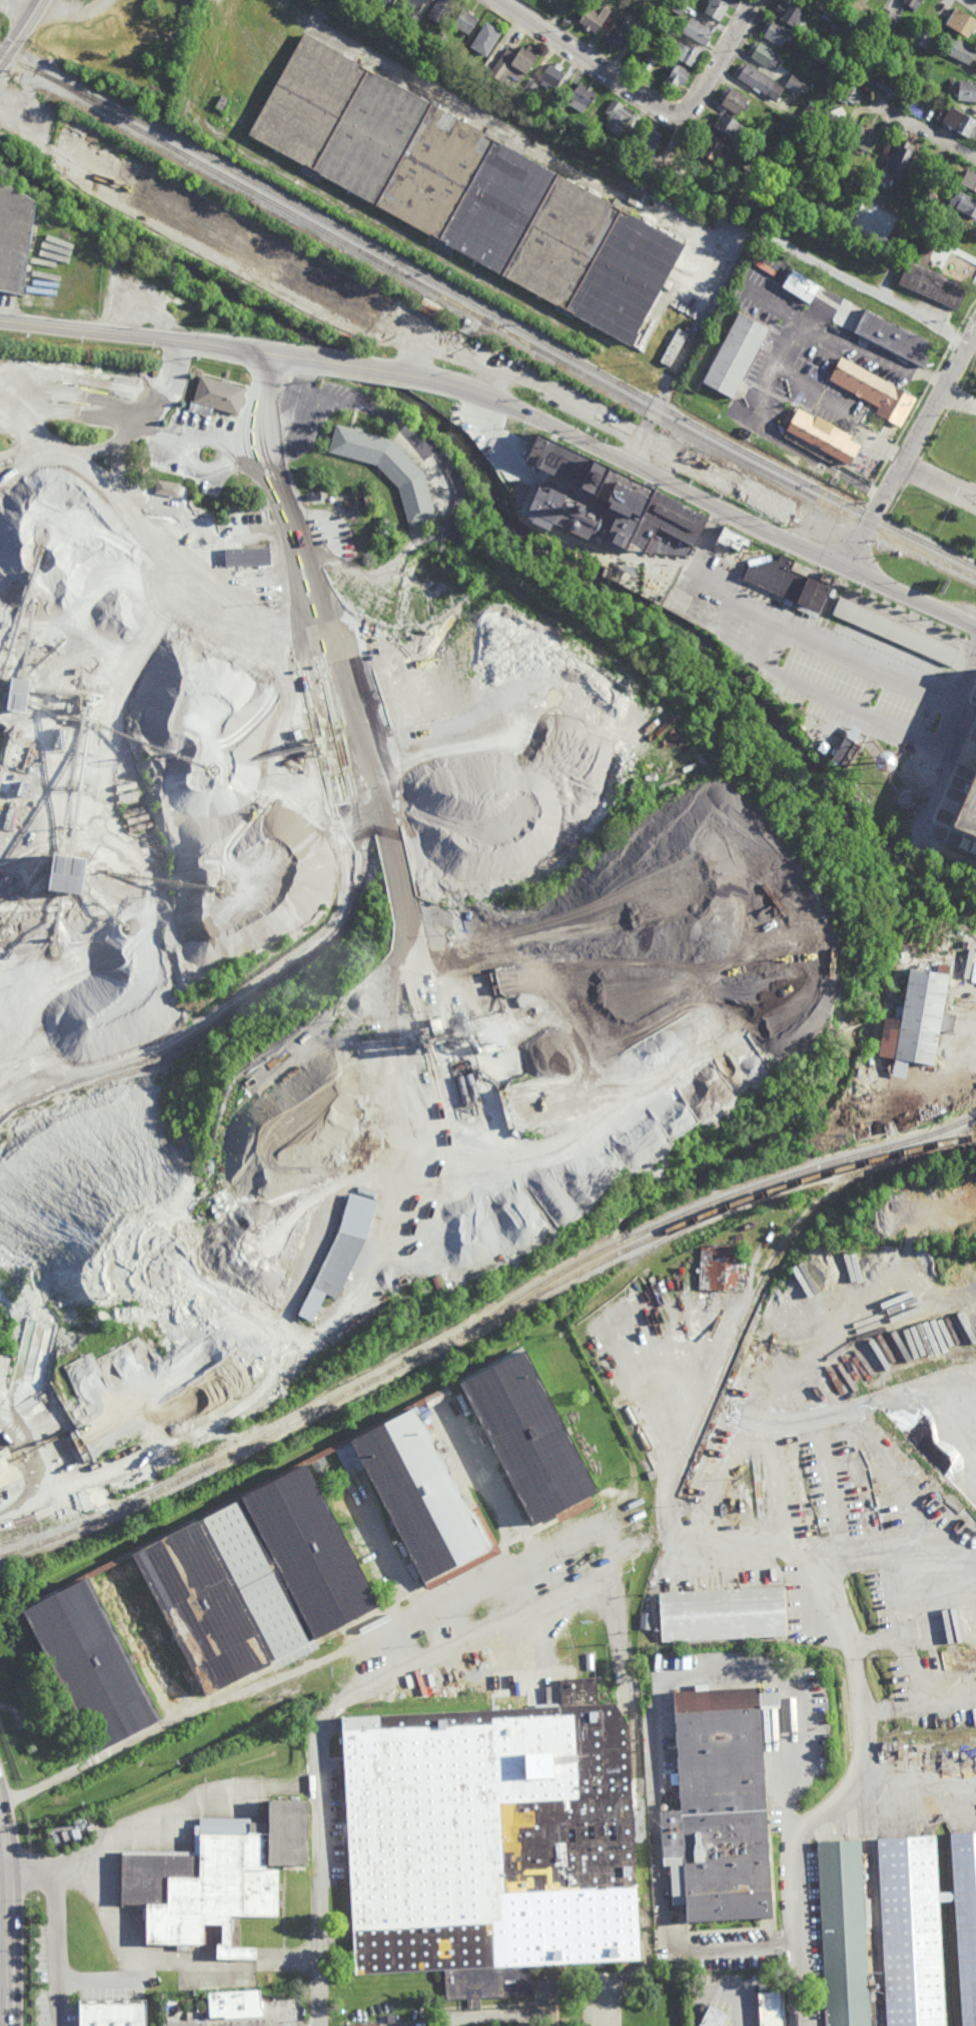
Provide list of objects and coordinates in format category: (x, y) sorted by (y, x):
road: (972, 2)
building: (417, 4)
building: (913, 4)
building: (675, 7)
building: (716, 8)
building: (441, 10)
road: (14, 11)
building: (172, 13)
building: (645, 13)
building: (791, 14)
building: (889, 17)
building: (594, 18)
building: (409, 20)
building: (464, 21)
building: (565, 21)
building: (962, 21)
building: (666, 29)
building: (698, 30)
road: (21, 31)
building: (621, 32)
building: (777, 32)
building: (922, 37)
building: (440, 38)
building: (485, 38)
building: (828, 41)
road: (729, 48)
building: (961, 49)
building: (642, 52)
building: (687, 53)
building: (764, 54)
building: (653, 58)
building: (488, 63)
building: (513, 64)
railway: (25, 68)
building: (872, 68)
road: (601, 69)
building: (550, 75)
building: (677, 76)
building: (758, 80)
building: (796, 83)
building: (890, 85)
building: (560, 86)
building: (529, 88)
building: (967, 90)
building: (851, 94)
building: (581, 97)
building: (734, 100)
building: (223, 103)
building: (157, 104)
building: (559, 106)
building: (836, 114)
building: (617, 116)
building: (809, 118)
building: (959, 121)
building: (79, 125)
building: (729, 125)
road: (925, 127)
building: (804, 137)
building: (864, 137)
building: (646, 142)
building: (763, 142)
building: (712, 148)
building: (902, 158)
building: (749, 162)
building: (970, 180)
building: (467, 190)
building: (878, 192)
building: (964, 203)
building: (198, 215)
building: (14, 238)
park: (924, 246)
road: (951, 247)
building: (935, 254)
road: (943, 254)
road: (851, 278)
building: (934, 284)
building: (801, 286)
building: (332, 288)
building: (430, 308)
railway: (512, 325)
railway: (510, 334)
road: (141, 335)
building: (896, 338)
road: (786, 345)
building: (674, 348)
building: (735, 355)
road: (488, 362)
road: (342, 364)
road: (266, 373)
building: (876, 390)
building: (217, 397)
road: (959, 398)
road: (299, 414)
road: (648, 425)
road: (409, 429)
road: (153, 430)
building: (824, 434)
road: (911, 449)
building: (172, 465)
building: (390, 468)
road: (937, 488)
building: (167, 489)
road: (691, 492)
building: (759, 495)
building: (360, 501)
building: (613, 502)
building: (734, 537)
building: (247, 556)
building: (790, 584)
road: (307, 594)
road: (738, 609)
building: (895, 631)
parking lot: (825, 662)
road: (867, 670)
building: (19, 694)
building: (785, 699)
road: (831, 702)
road: (958, 708)
building: (847, 748)
water tower: (886, 765)
building: (968, 811)
building: (66, 873)
quarry: (341, 911)
building: (426, 948)
building: (917, 1020)
building: (379, 1048)
road: (954, 1064)
building: (377, 1069)
building: (385, 1077)
building: (341, 1088)
building: (358, 1101)
road: (399, 1138)
building: (345, 1150)
railway: (779, 1190)
building: (342, 1252)
building: (719, 1266)
railway: (483, 1324)
railway: (734, 1349)
road: (790, 1419)
building: (527, 1437)
road: (35, 1459)
building: (8, 1468)
building: (422, 1497)
building: (574, 1510)
building: (259, 1580)
road: (891, 1584)
building: (723, 1615)
building: (94, 1666)
building: (578, 1690)
road: (369, 1692)
road: (918, 1697)
road: (651, 1721)
road: (856, 1777)
road: (914, 1800)
building: (718, 1803)
road: (155, 1820)
building: (68, 1837)
building: (494, 1840)
road: (2, 1852)
building: (220, 1878)
road: (7, 1915)
building: (966, 1918)
building: (911, 1931)
building: (843, 1932)
road: (53, 1950)
road: (175, 1970)
road: (101, 1981)
building: (236, 2004)
building: (769, 2008)
building: (114, 2013)
building: (713, 2018)
building: (368, 2024)

